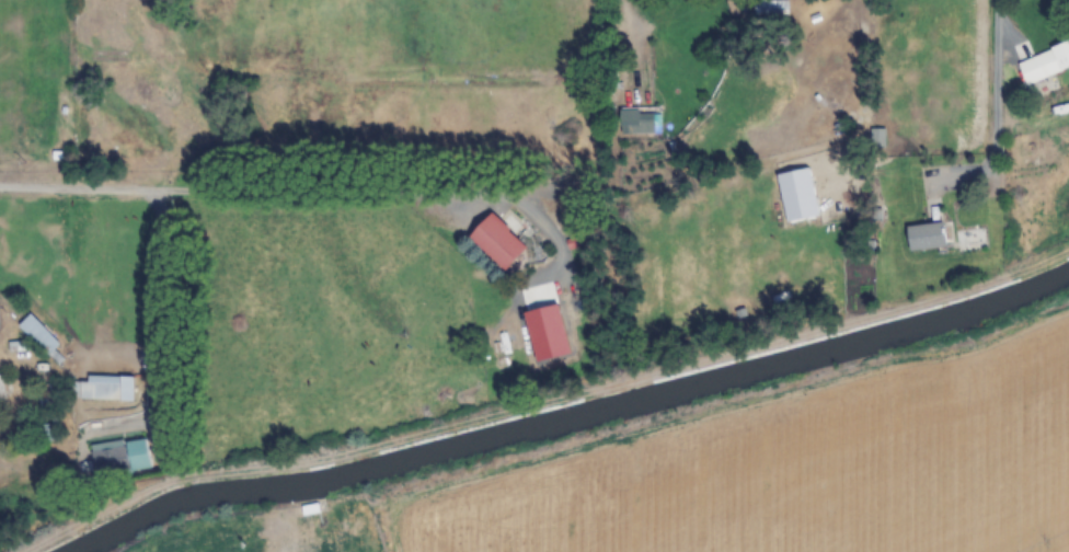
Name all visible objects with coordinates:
building: (773, 7)
building: (1045, 64)
road: (1000, 97)
building: (641, 119)
building: (877, 137)
road: (234, 185)
building: (926, 237)
building: (496, 242)
building: (39, 335)
building: (2, 388)
building: (105, 388)
building: (120, 457)
crop: (801, 469)

